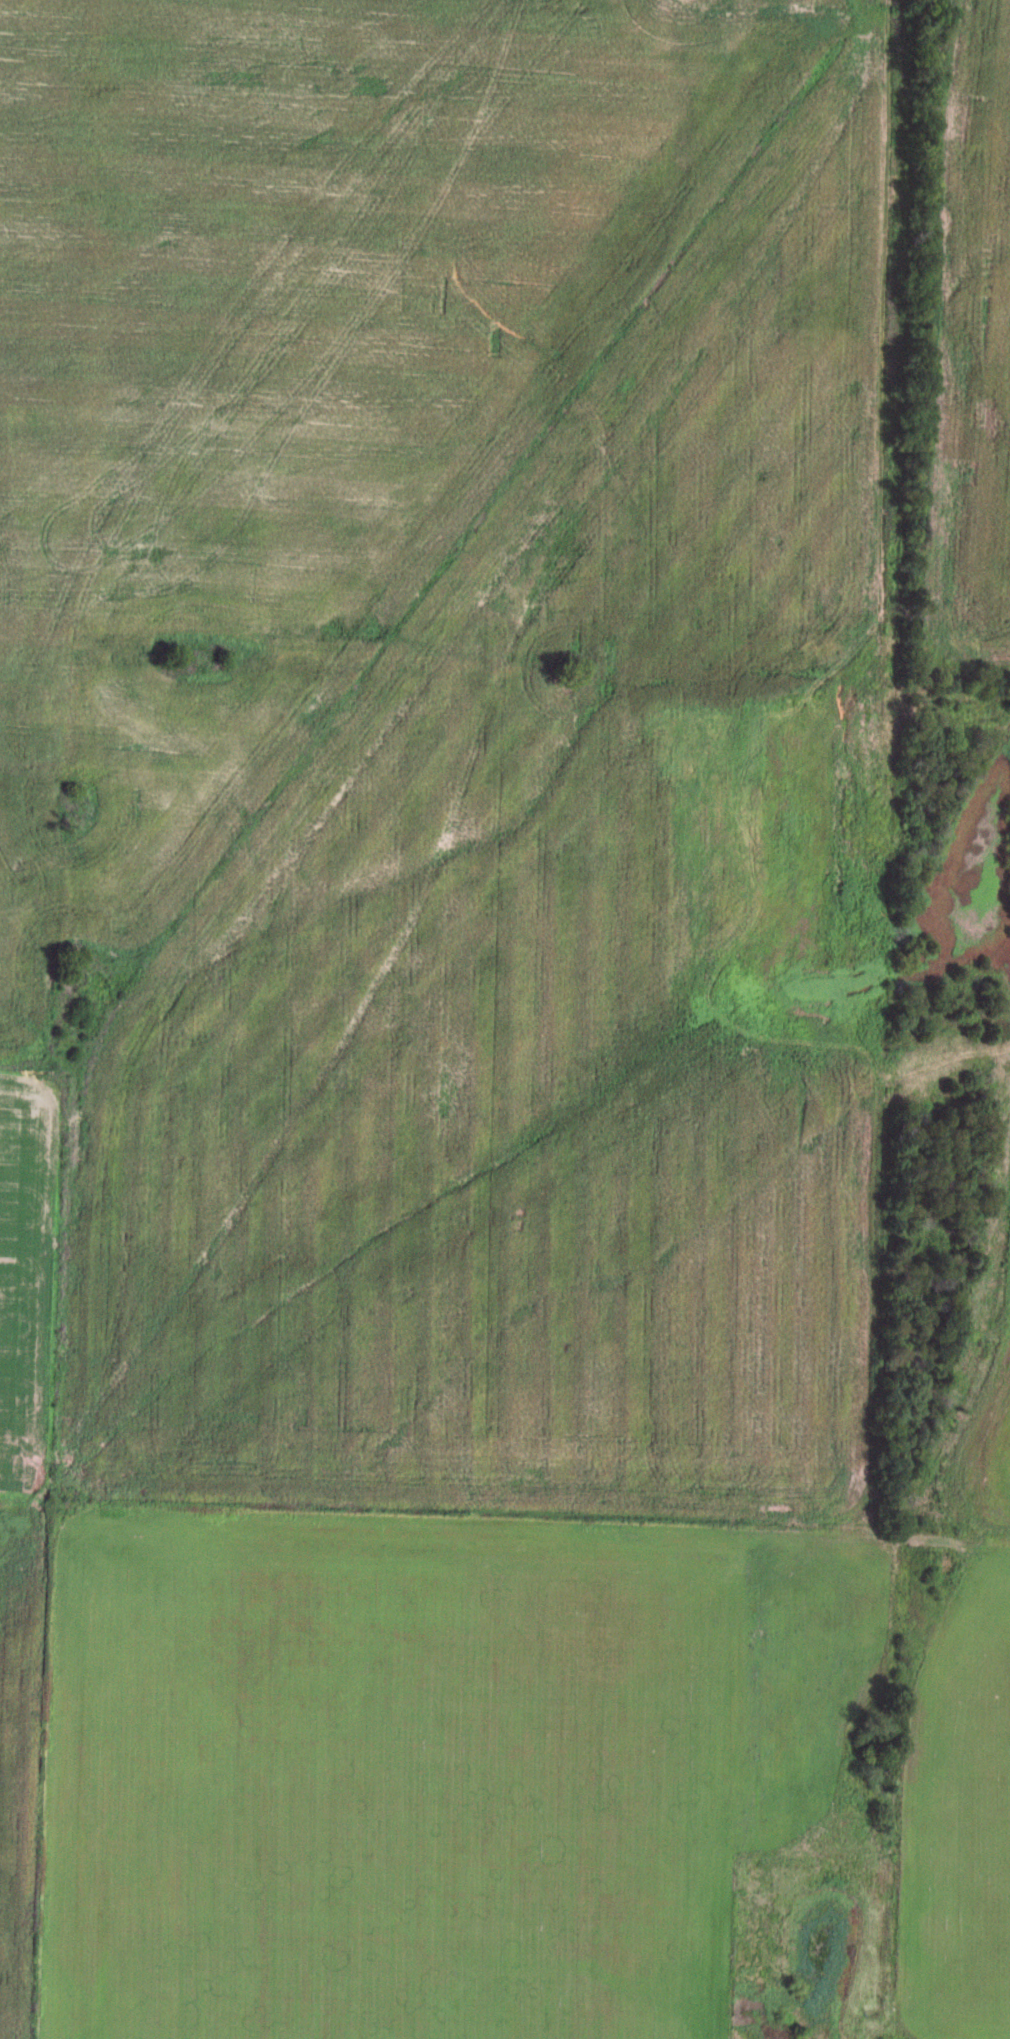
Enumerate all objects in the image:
road: (859, 1924)

